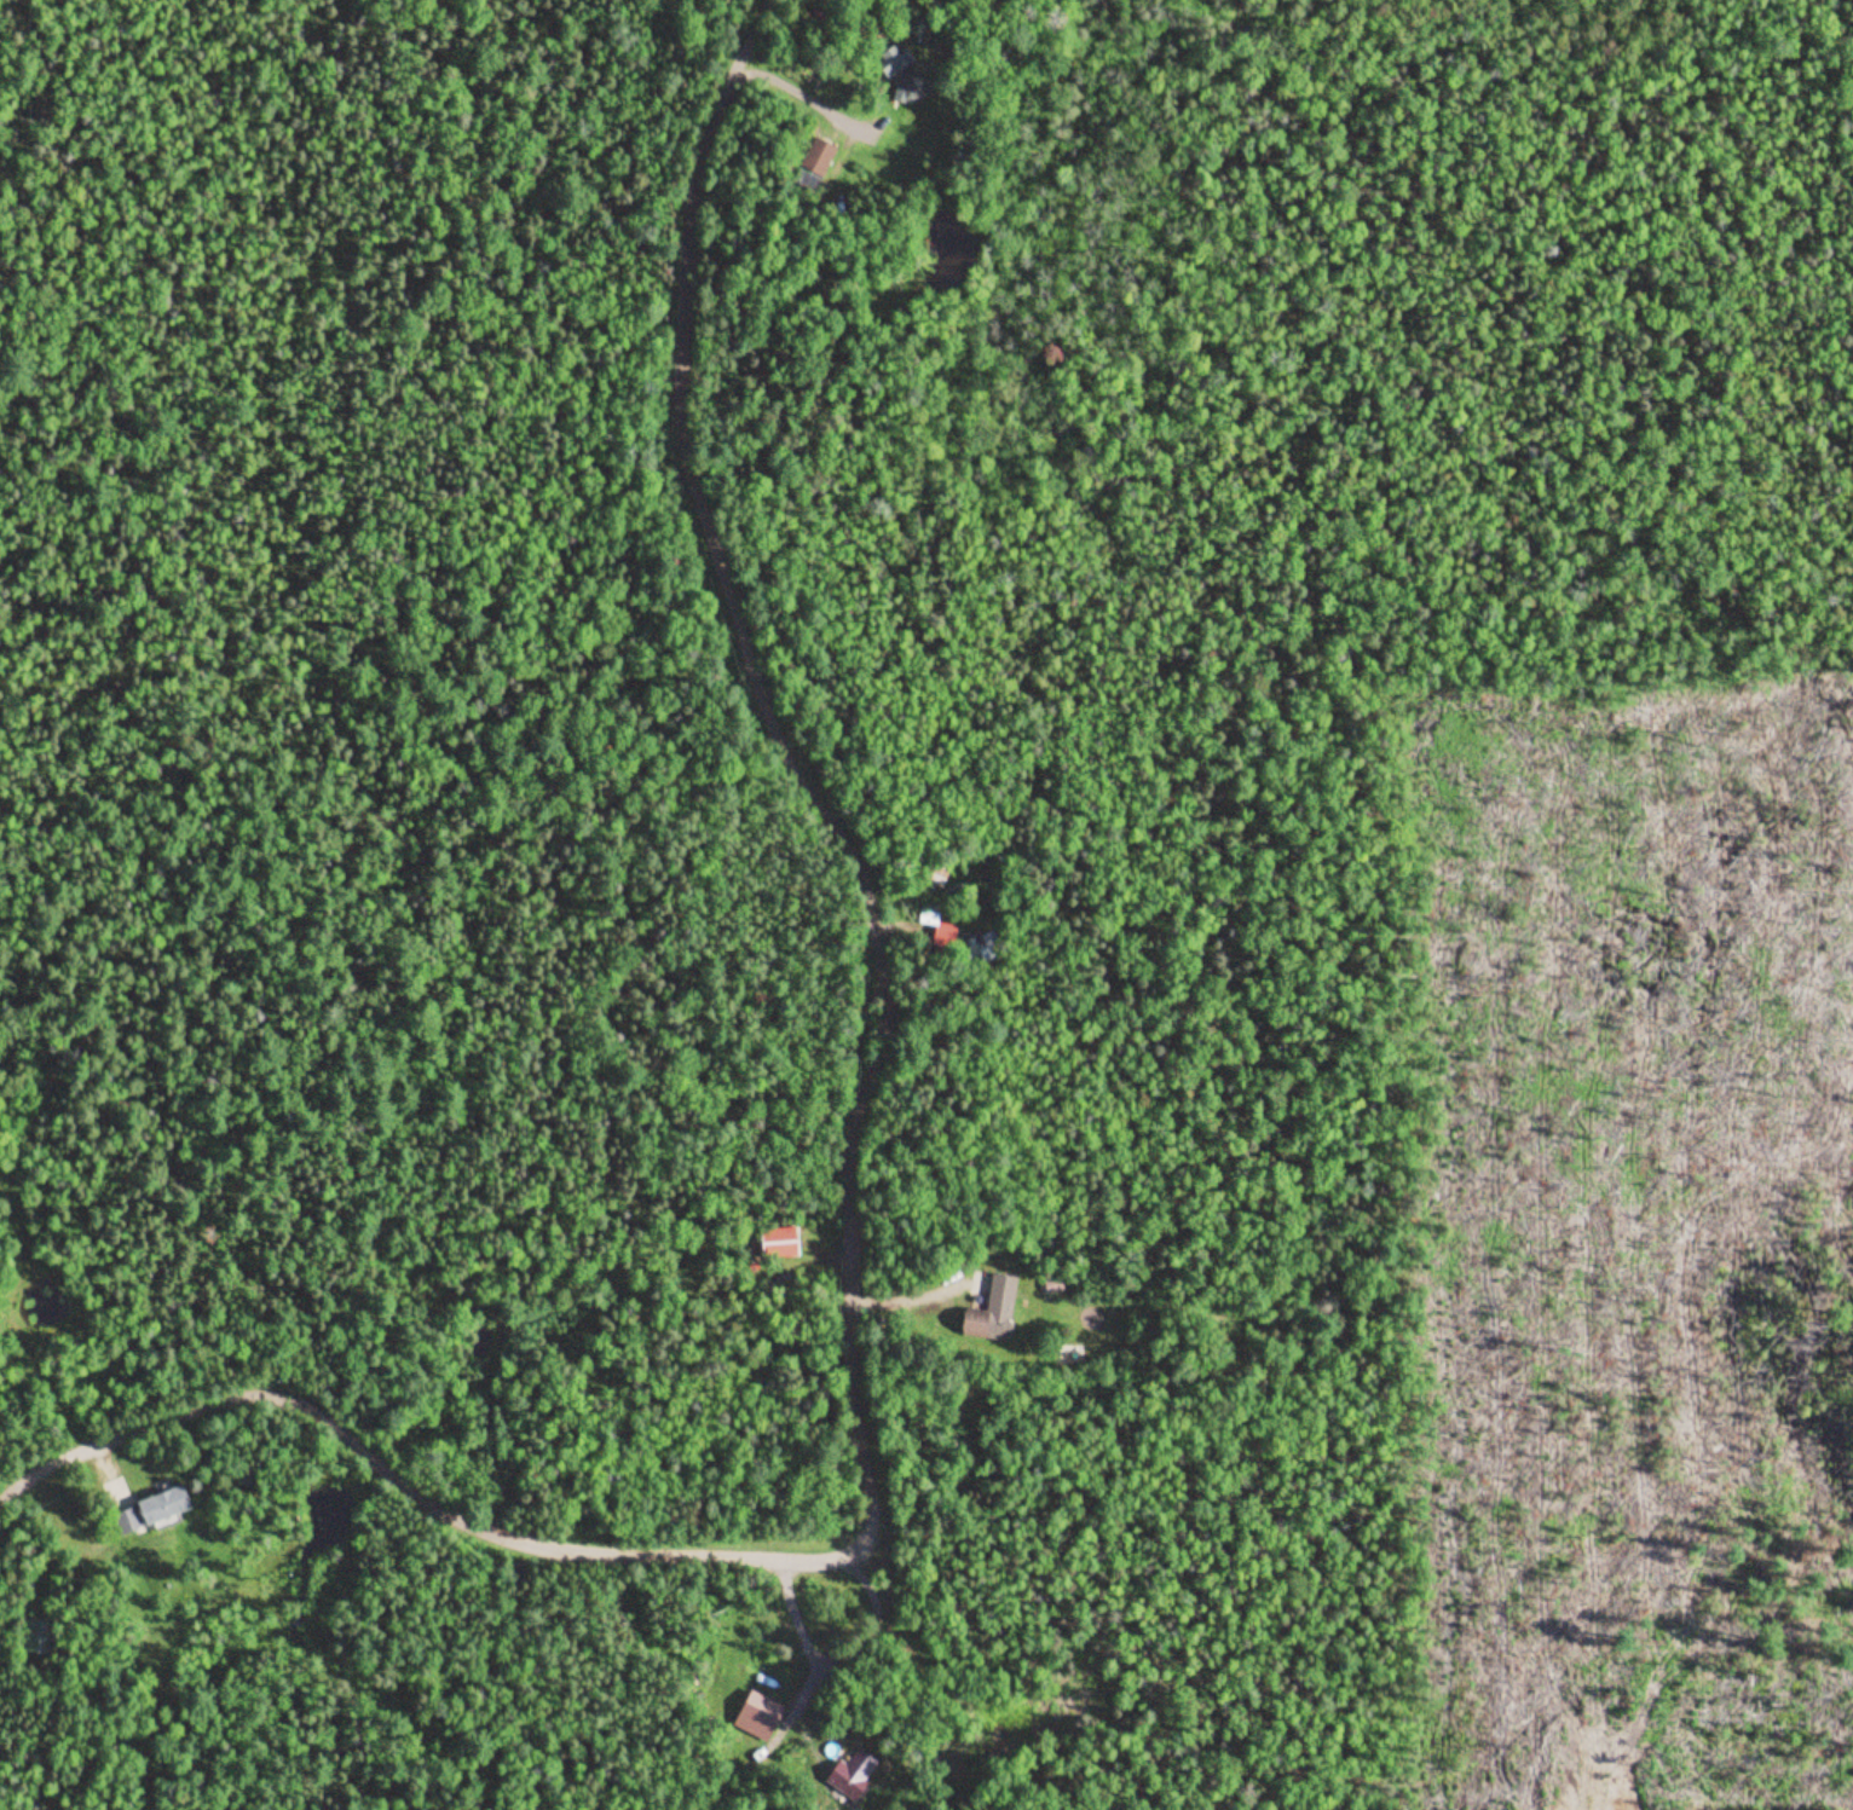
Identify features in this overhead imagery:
building: (902, 73)
building: (818, 156)
building: (941, 933)
road: (845, 1222)
building: (779, 1241)
building: (1000, 1301)
building: (146, 1505)
building: (760, 1712)
building: (854, 1773)

